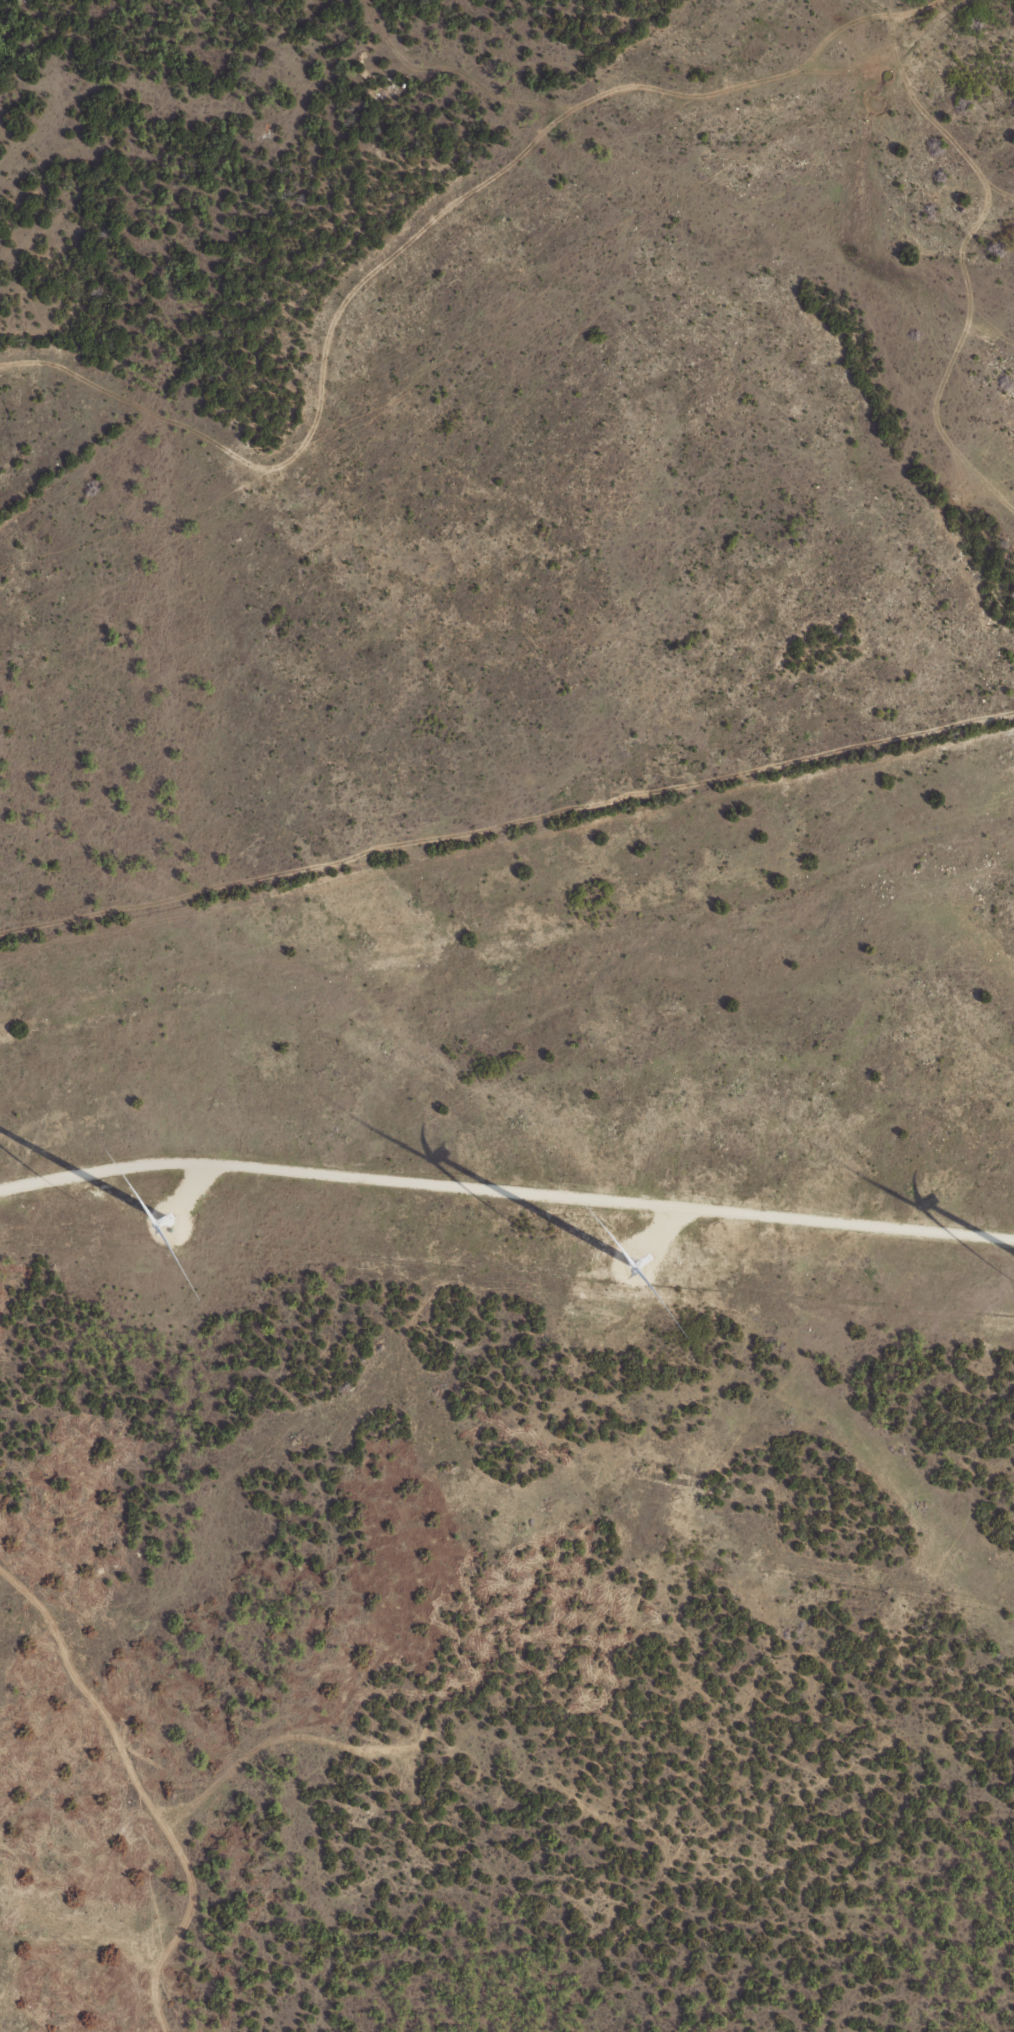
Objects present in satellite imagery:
road: (507, 964)
road: (506, 1190)
wind turbine: (183, 1208)
wind turbine: (619, 1254)
road: (506, 1788)

